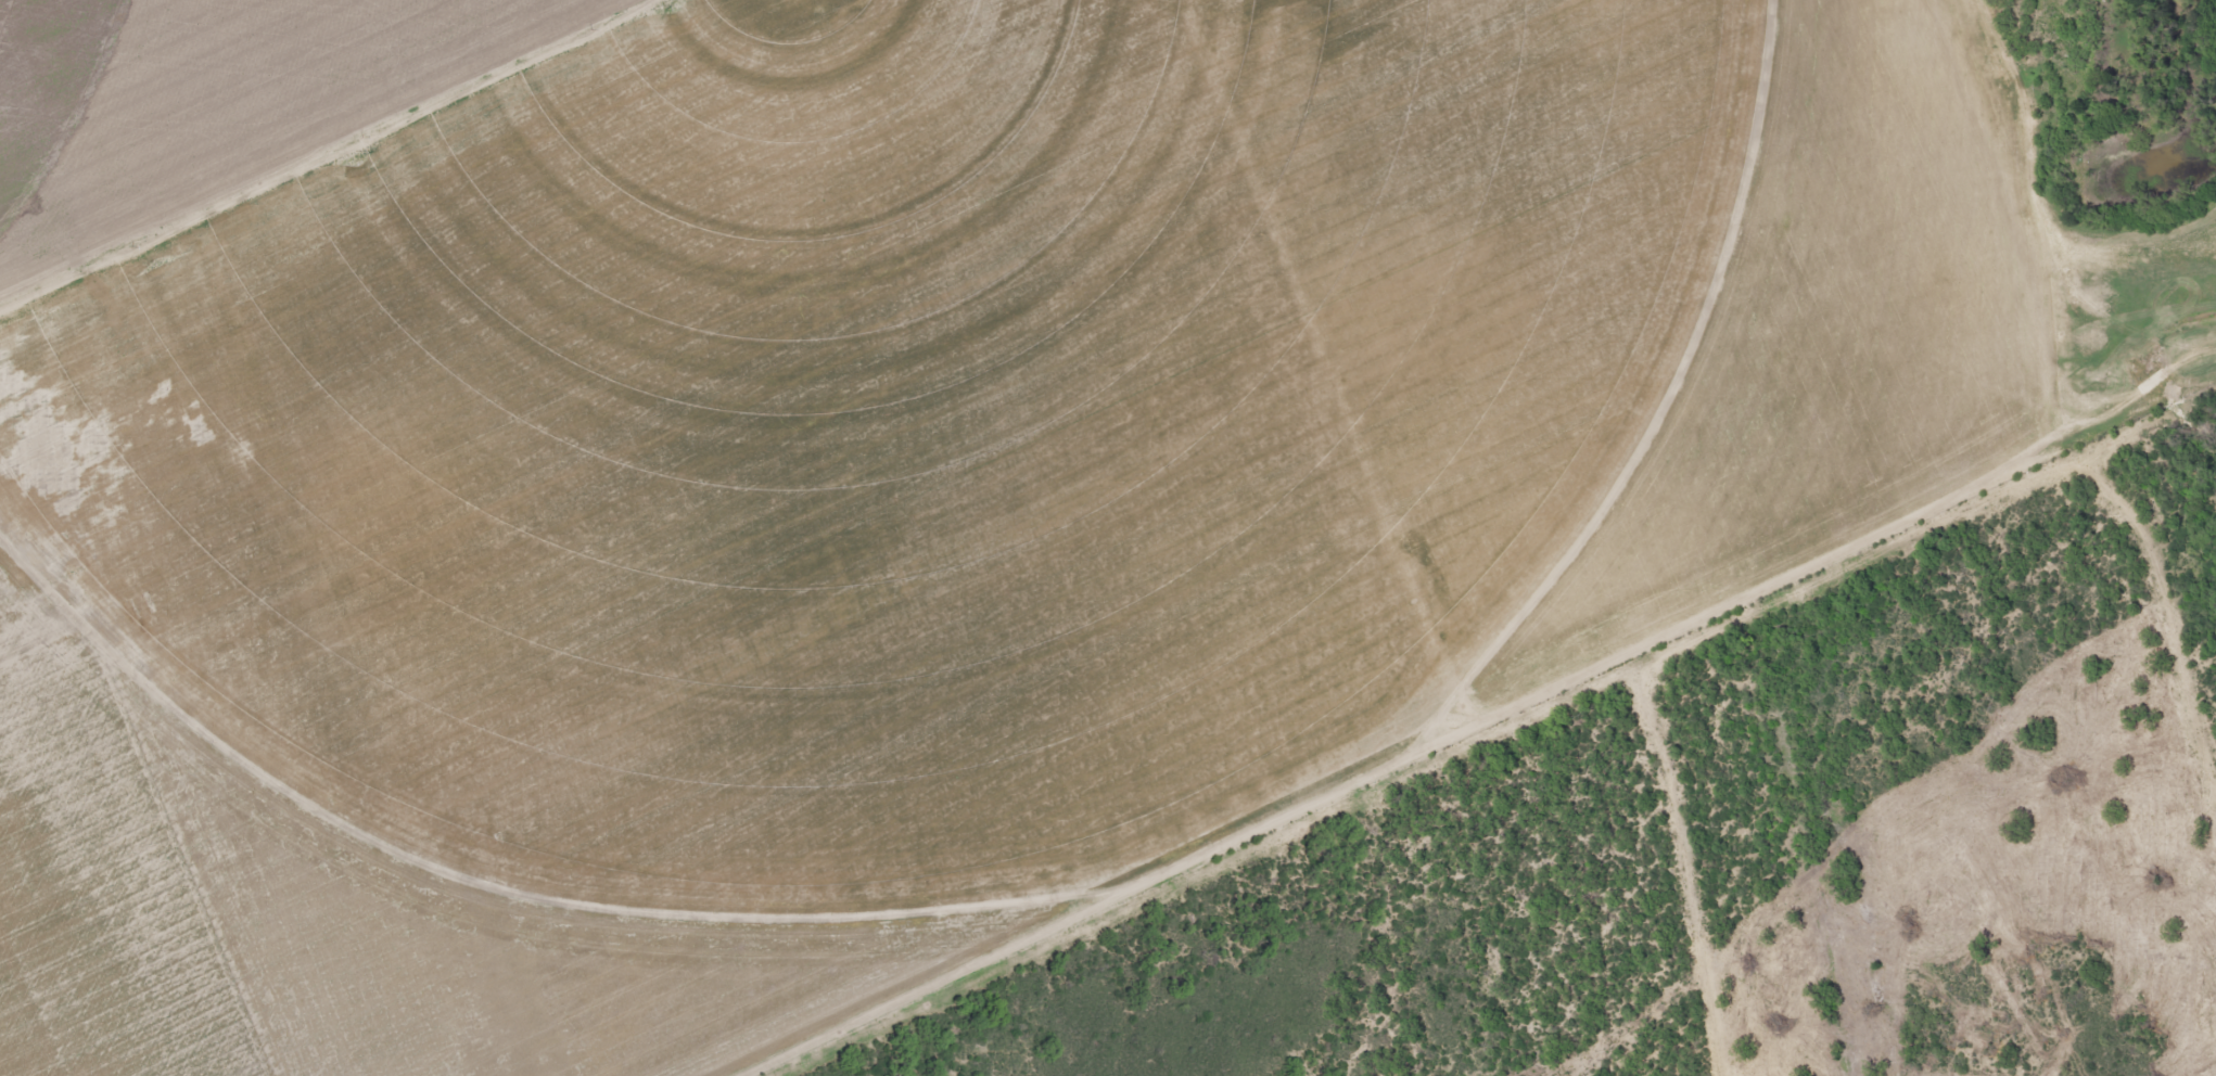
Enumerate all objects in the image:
road: (1481, 720)

